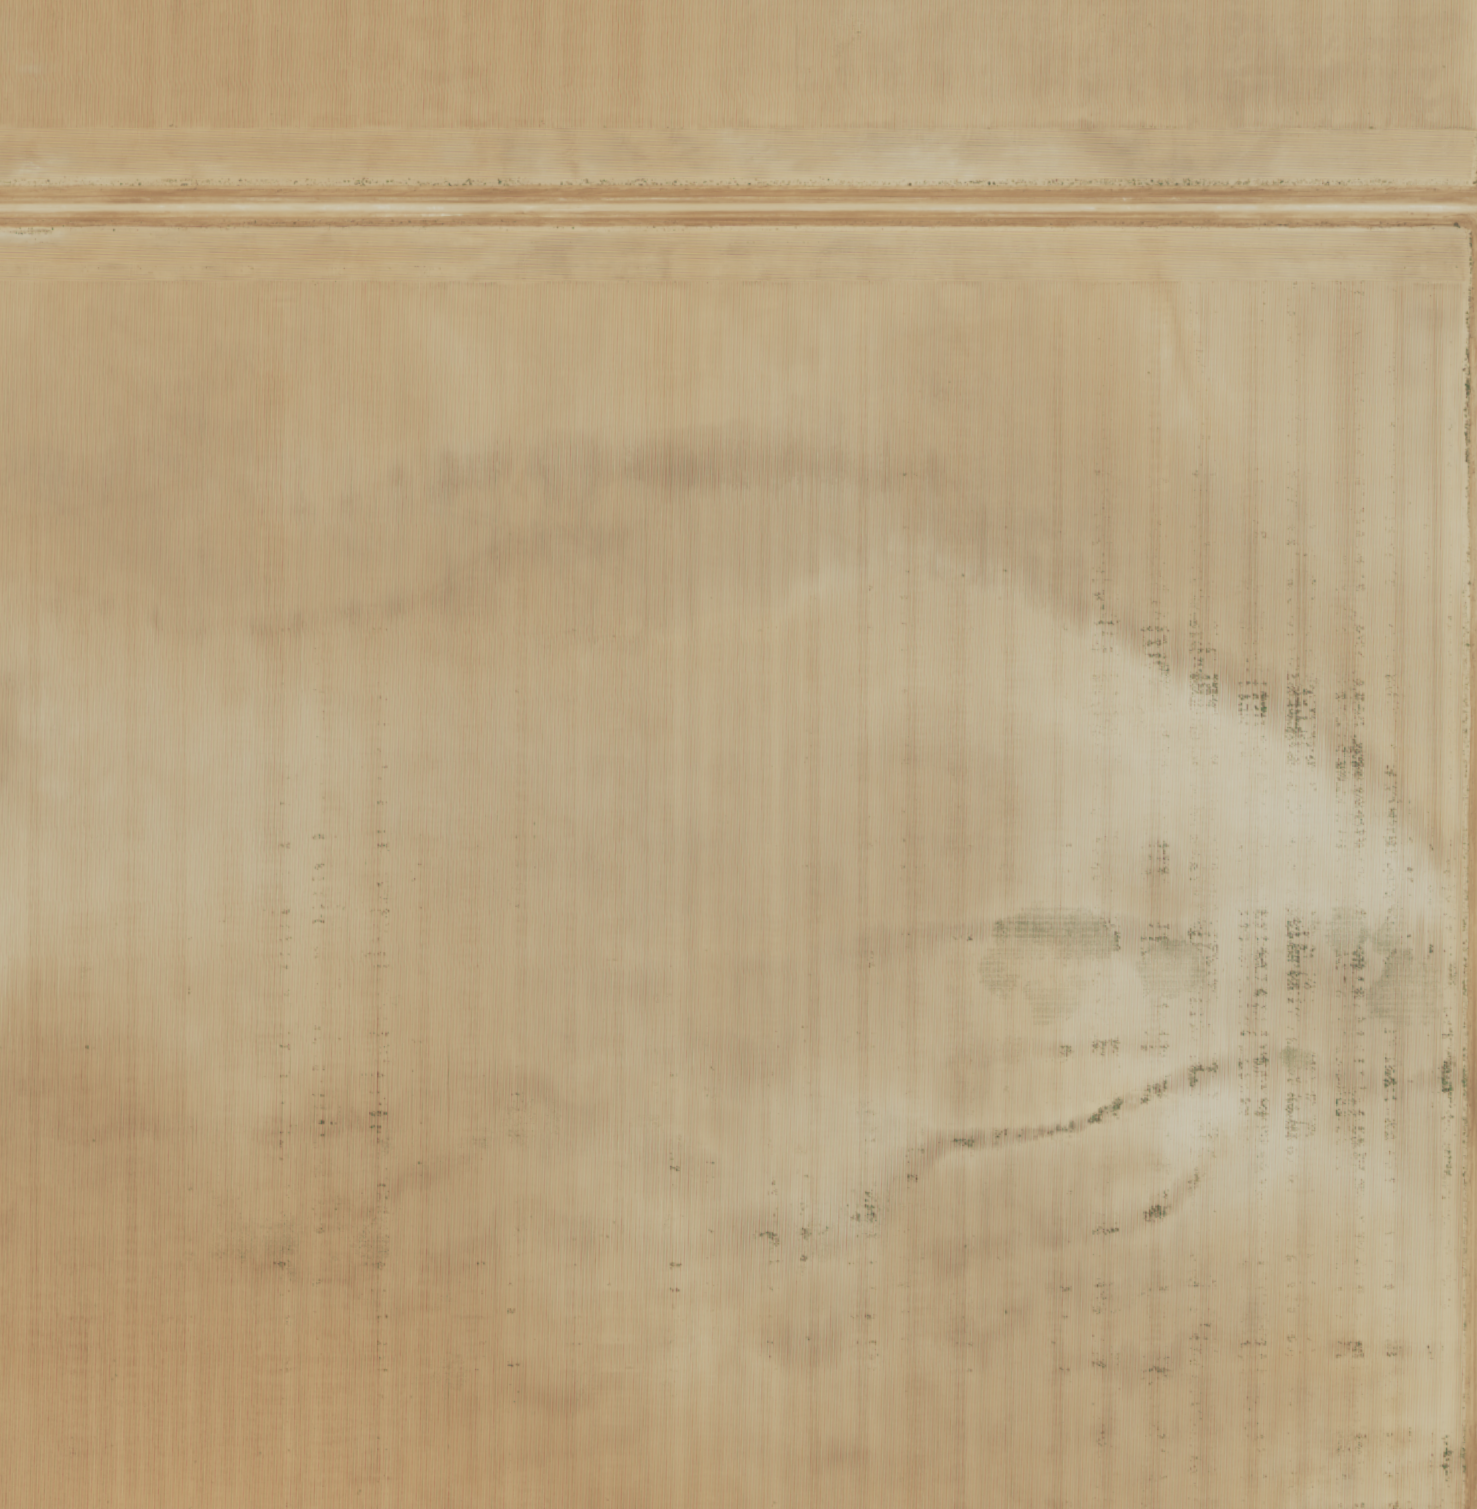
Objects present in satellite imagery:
road: (738, 195)
road: (1467, 852)

